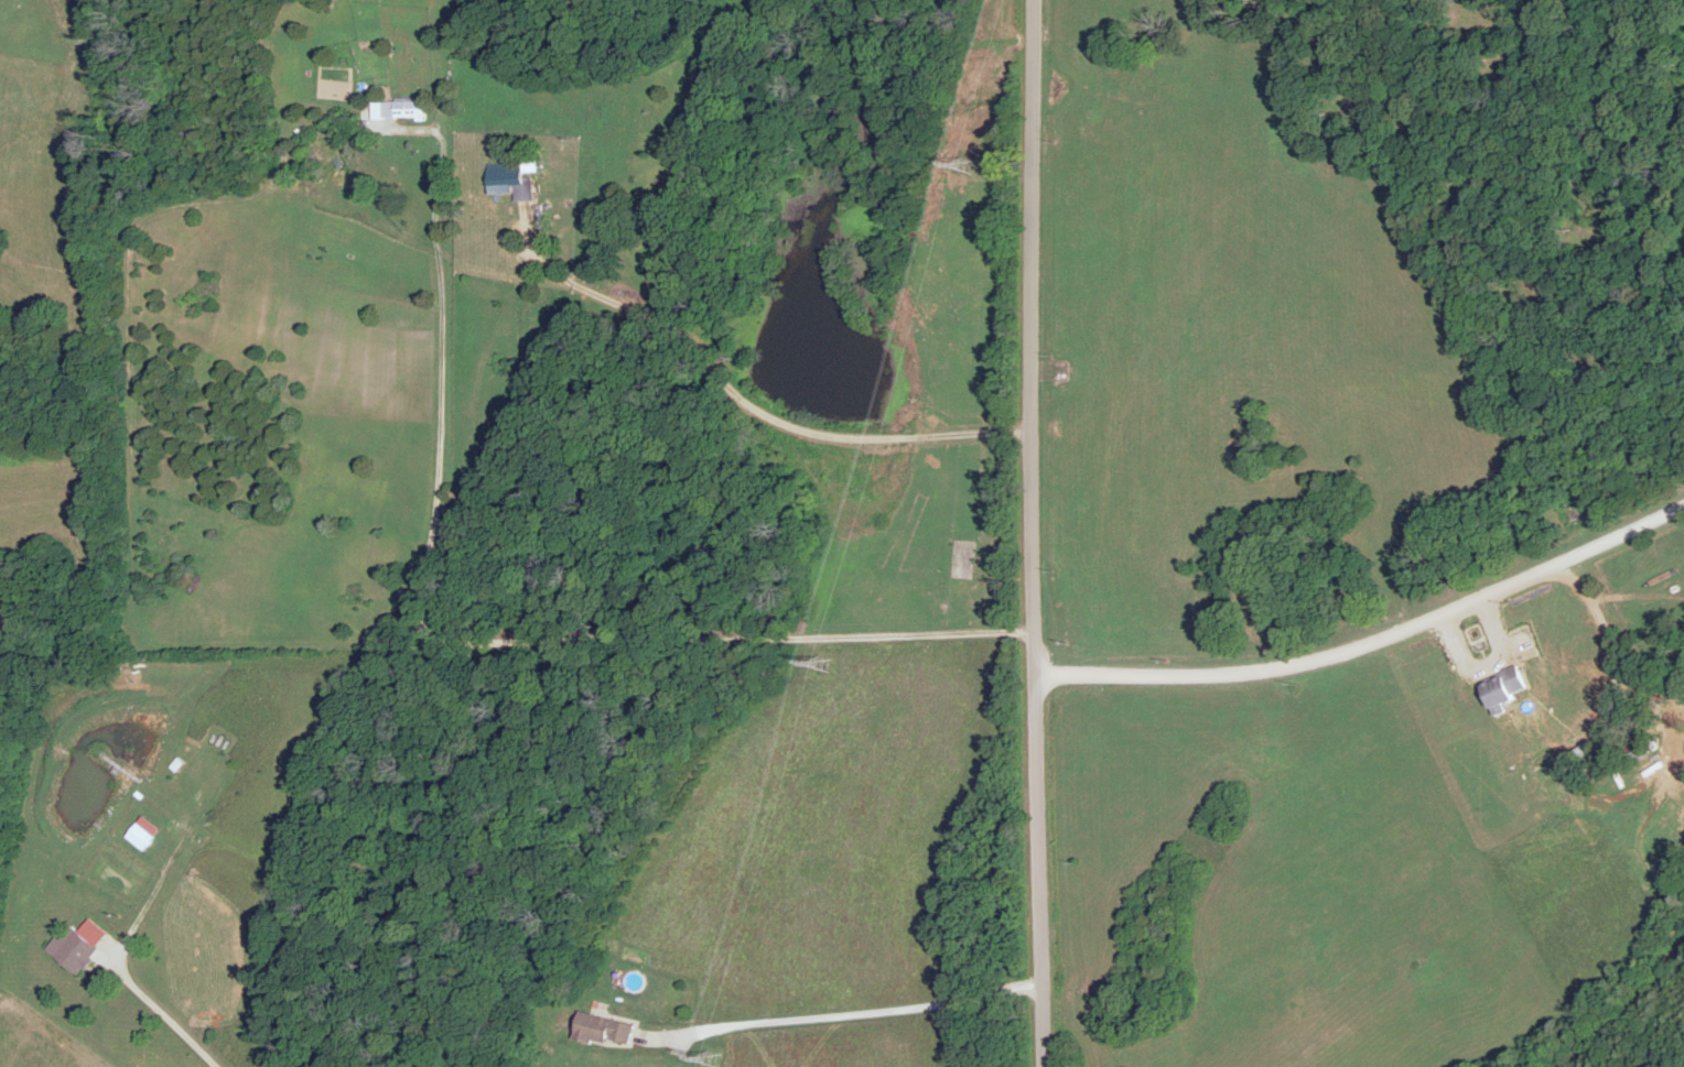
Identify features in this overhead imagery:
building: (406, 107)
building: (514, 176)
road: (687, 384)
road: (1032, 533)
road: (1367, 634)
building: (143, 835)
building: (79, 950)
road: (843, 1009)
building: (605, 1028)

